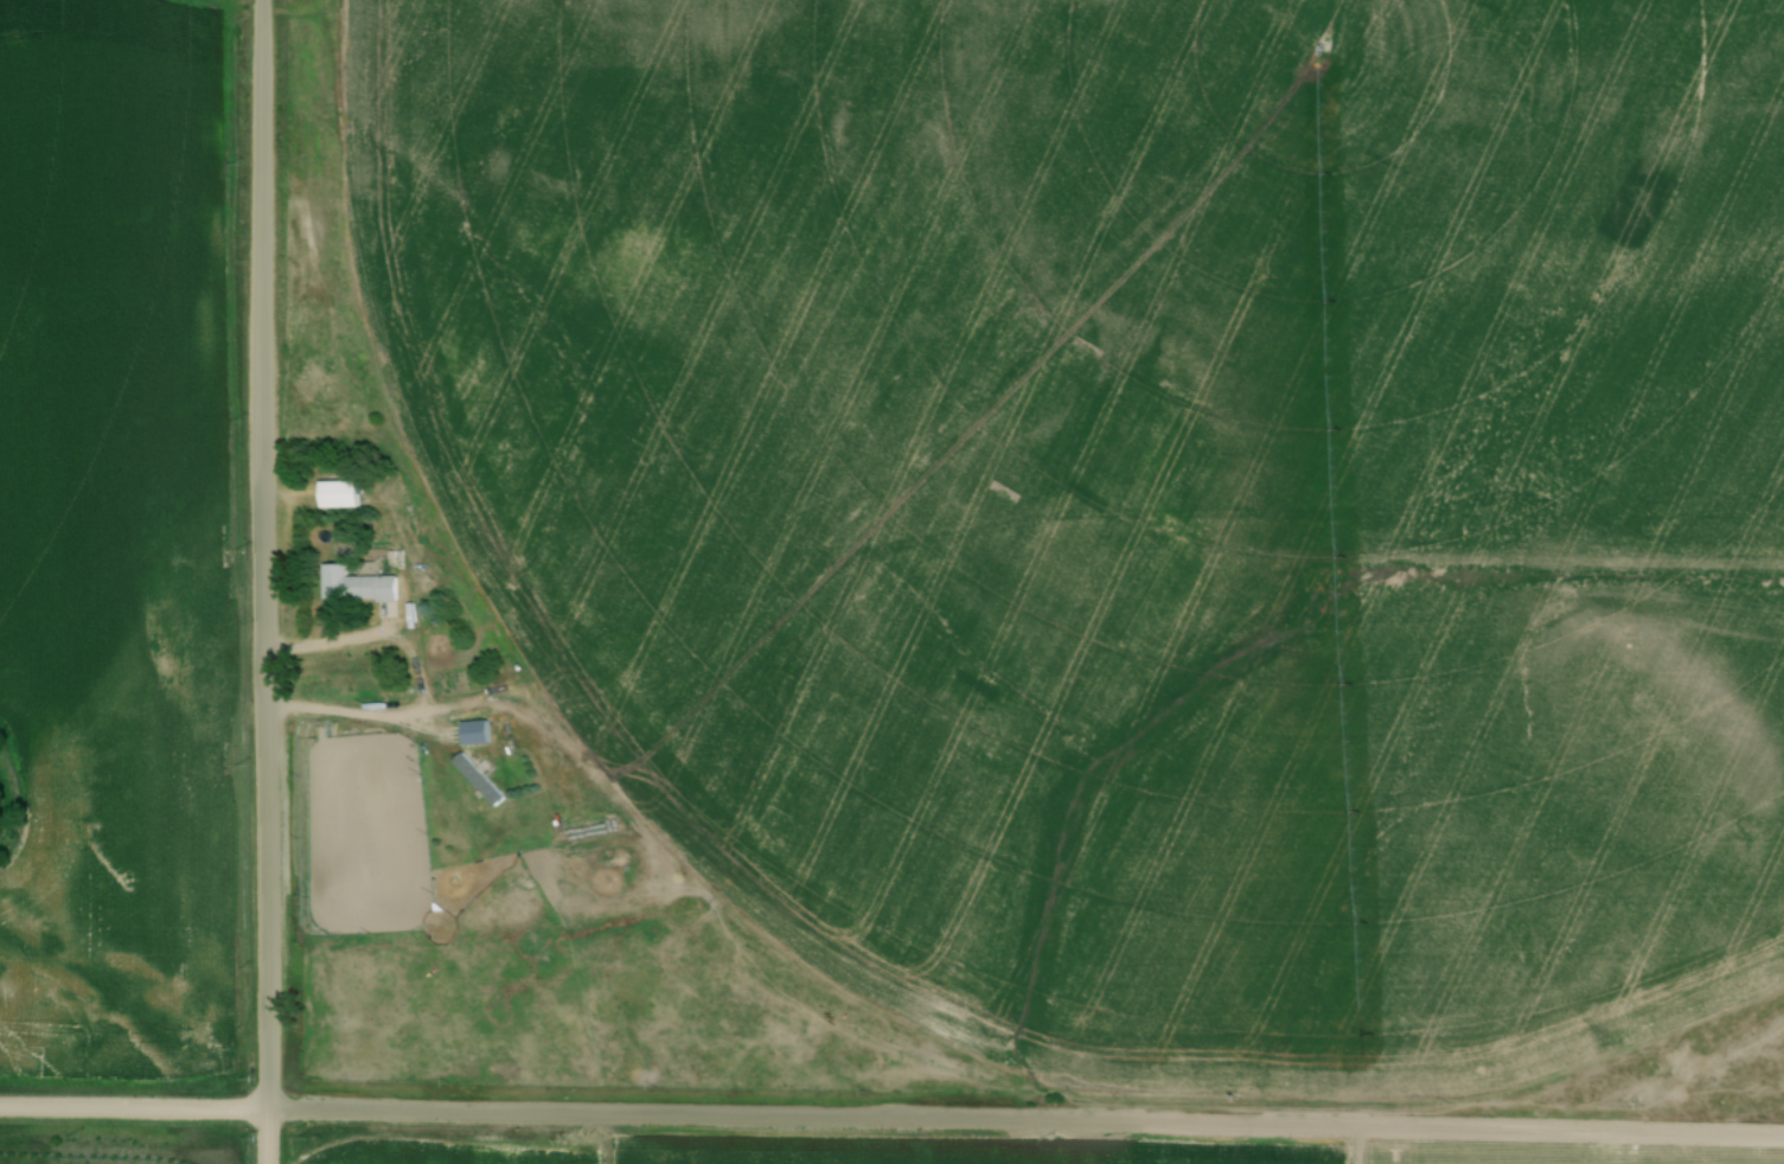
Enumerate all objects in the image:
building: (334, 494)
road: (267, 581)
building: (365, 588)
building: (367, 692)
building: (474, 780)
road: (134, 1114)
road: (1027, 1123)

